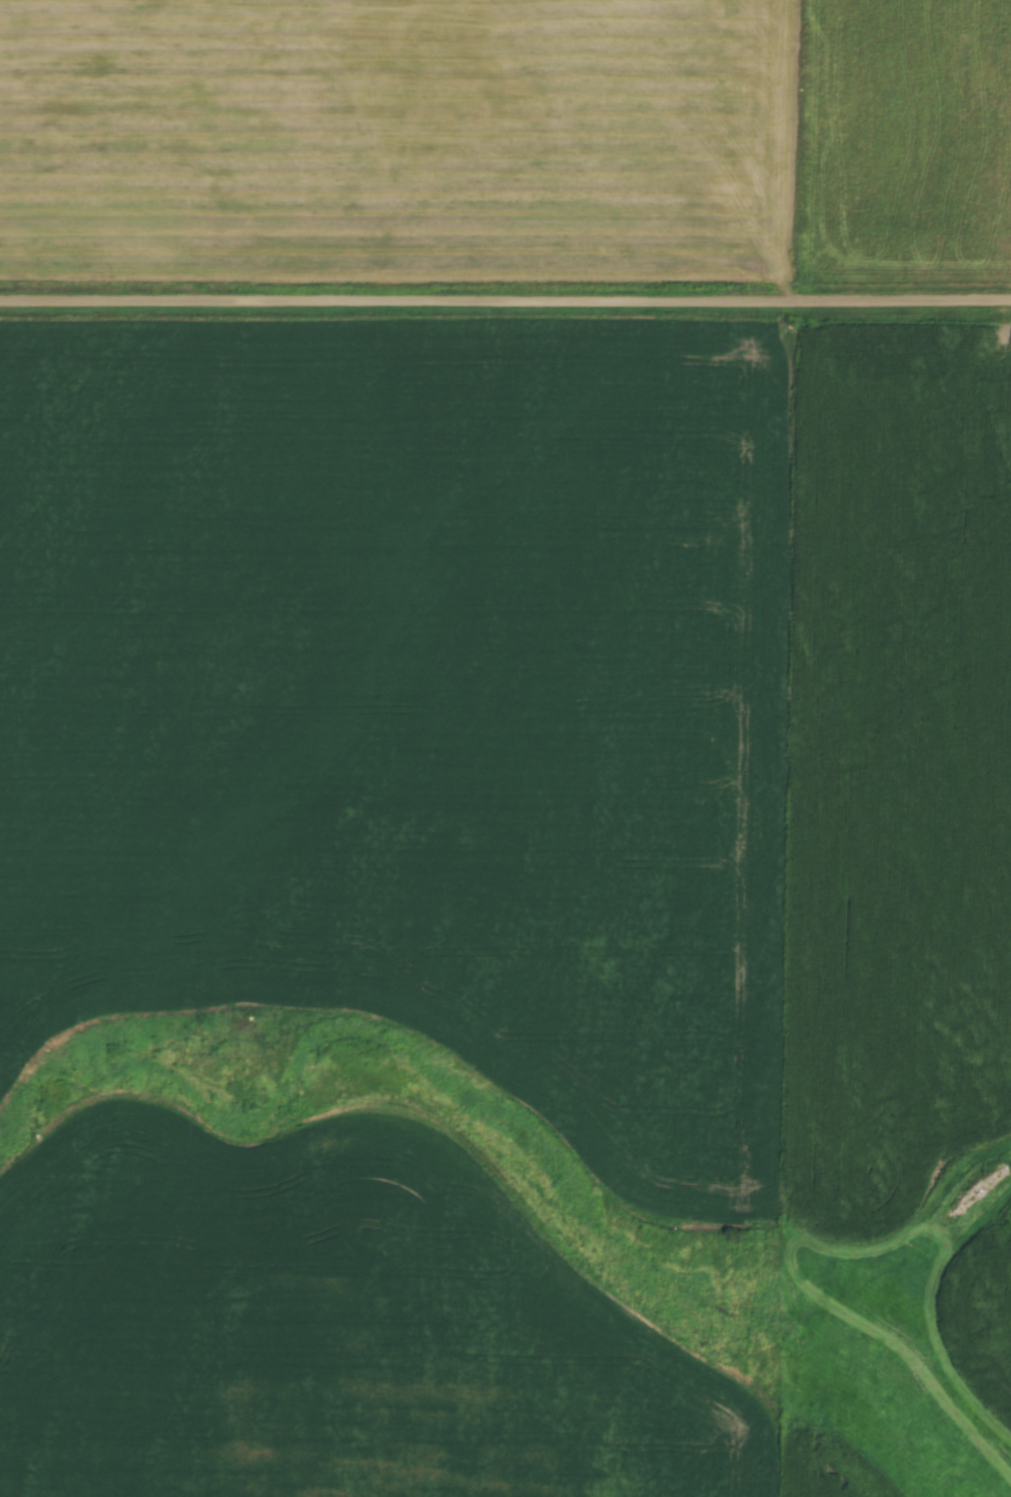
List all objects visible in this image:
road: (505, 303)

